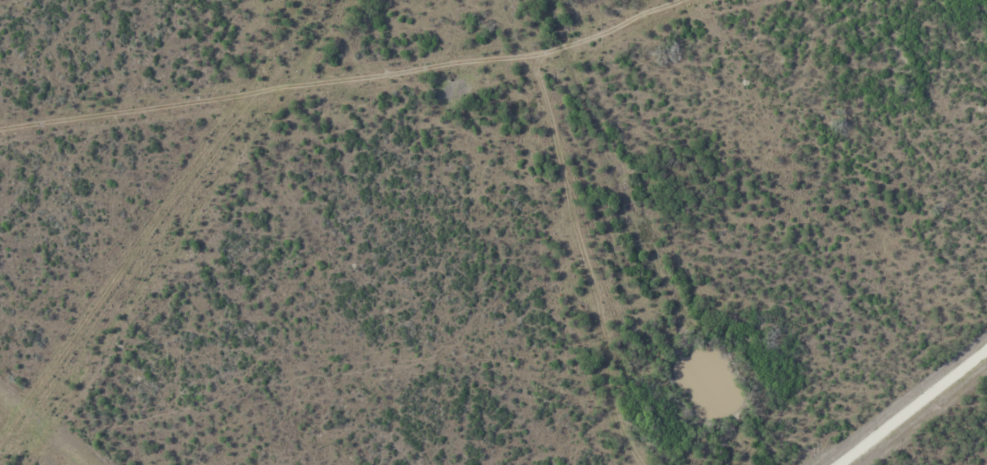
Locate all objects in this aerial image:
road: (361, 111)

